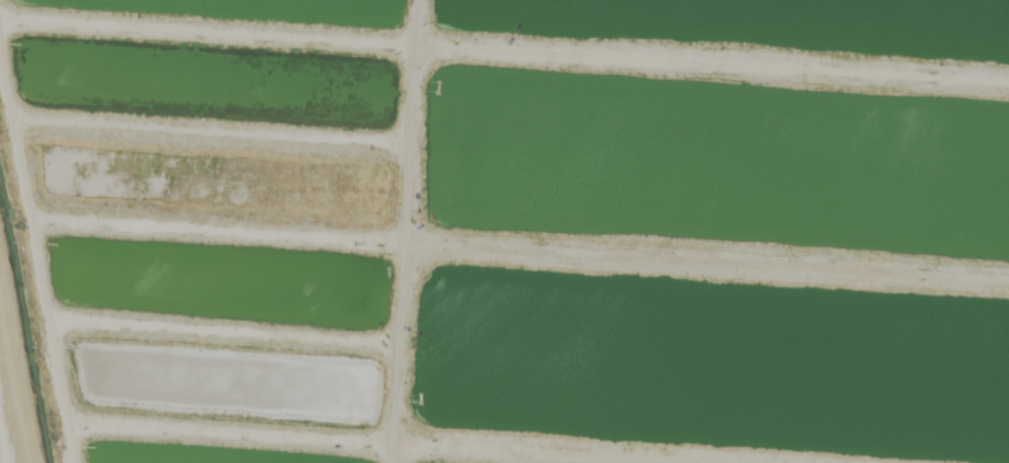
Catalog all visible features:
road: (3, 441)

